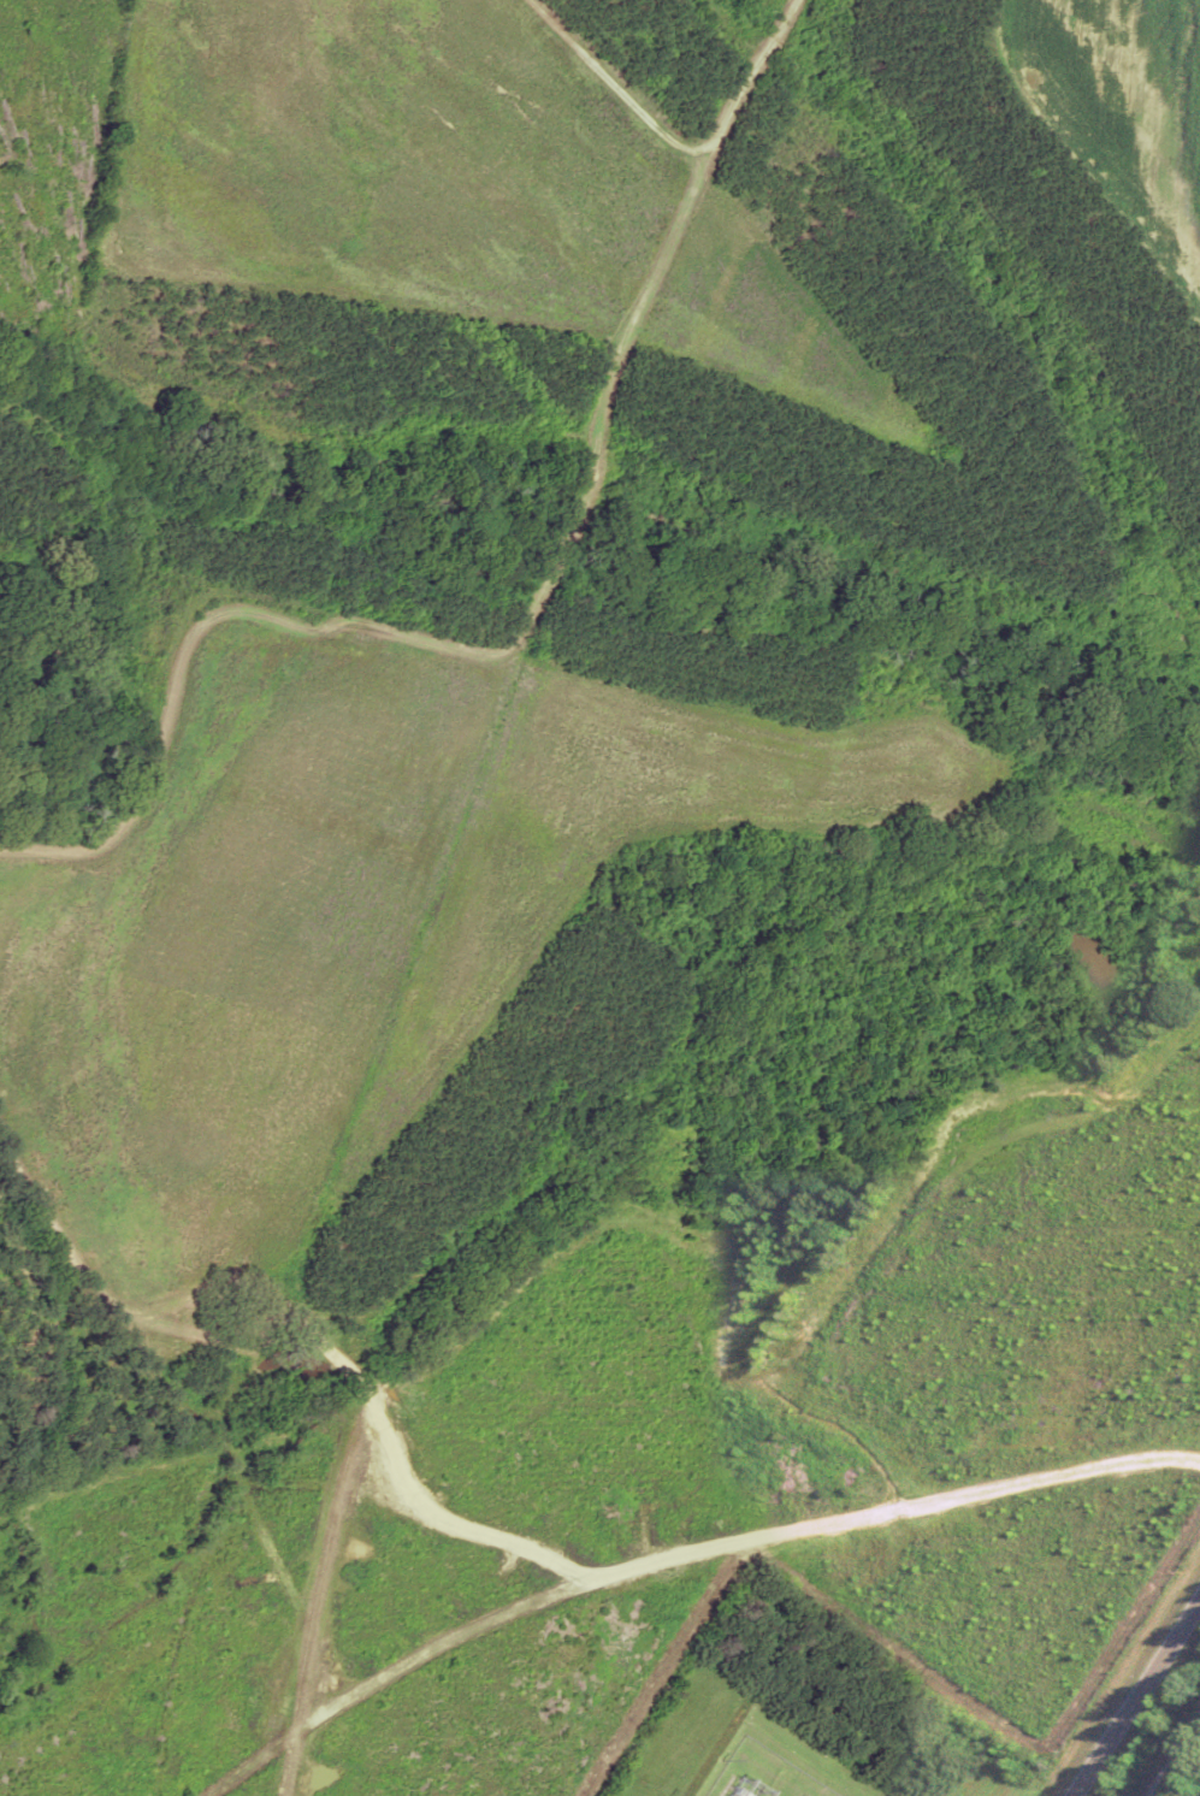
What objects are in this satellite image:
road: (1140, 1701)
railway: (1178, 1763)
power substation: (758, 1774)

